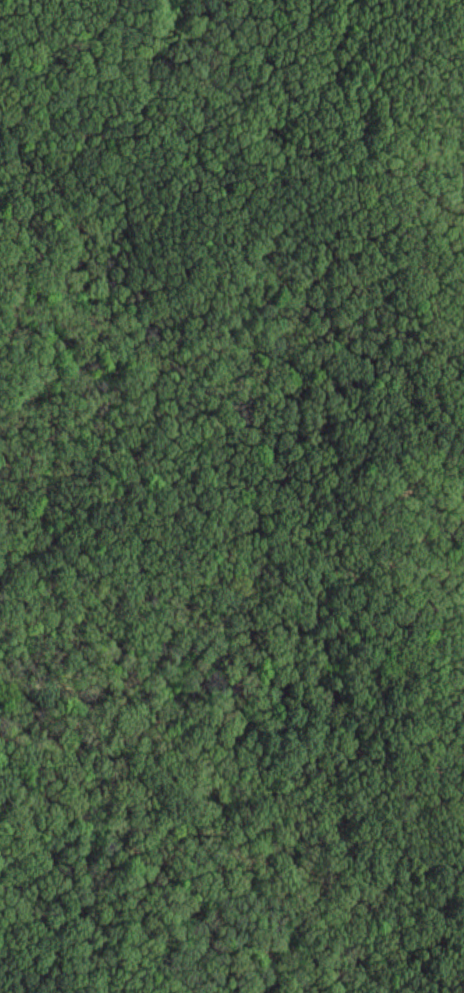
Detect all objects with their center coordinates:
road: (131, 42)

